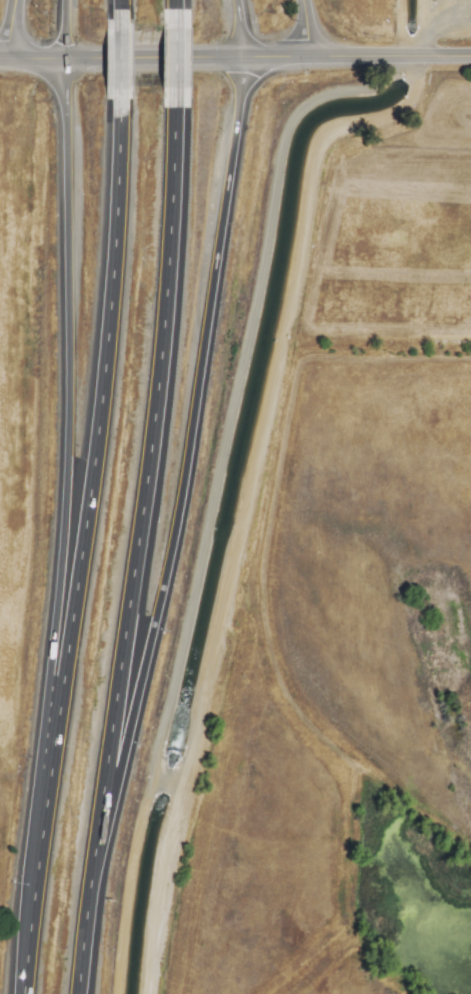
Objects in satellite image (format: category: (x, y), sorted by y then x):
road: (118, 6)
road: (172, 6)
road: (301, 26)
road: (6, 27)
road: (63, 27)
road: (238, 27)
road: (1, 55)
road: (237, 55)
road: (173, 58)
road: (118, 64)
road: (65, 445)
road: (184, 453)
road: (144, 476)
road: (213, 490)
road: (260, 494)
road: (79, 556)
road: (81, 920)

